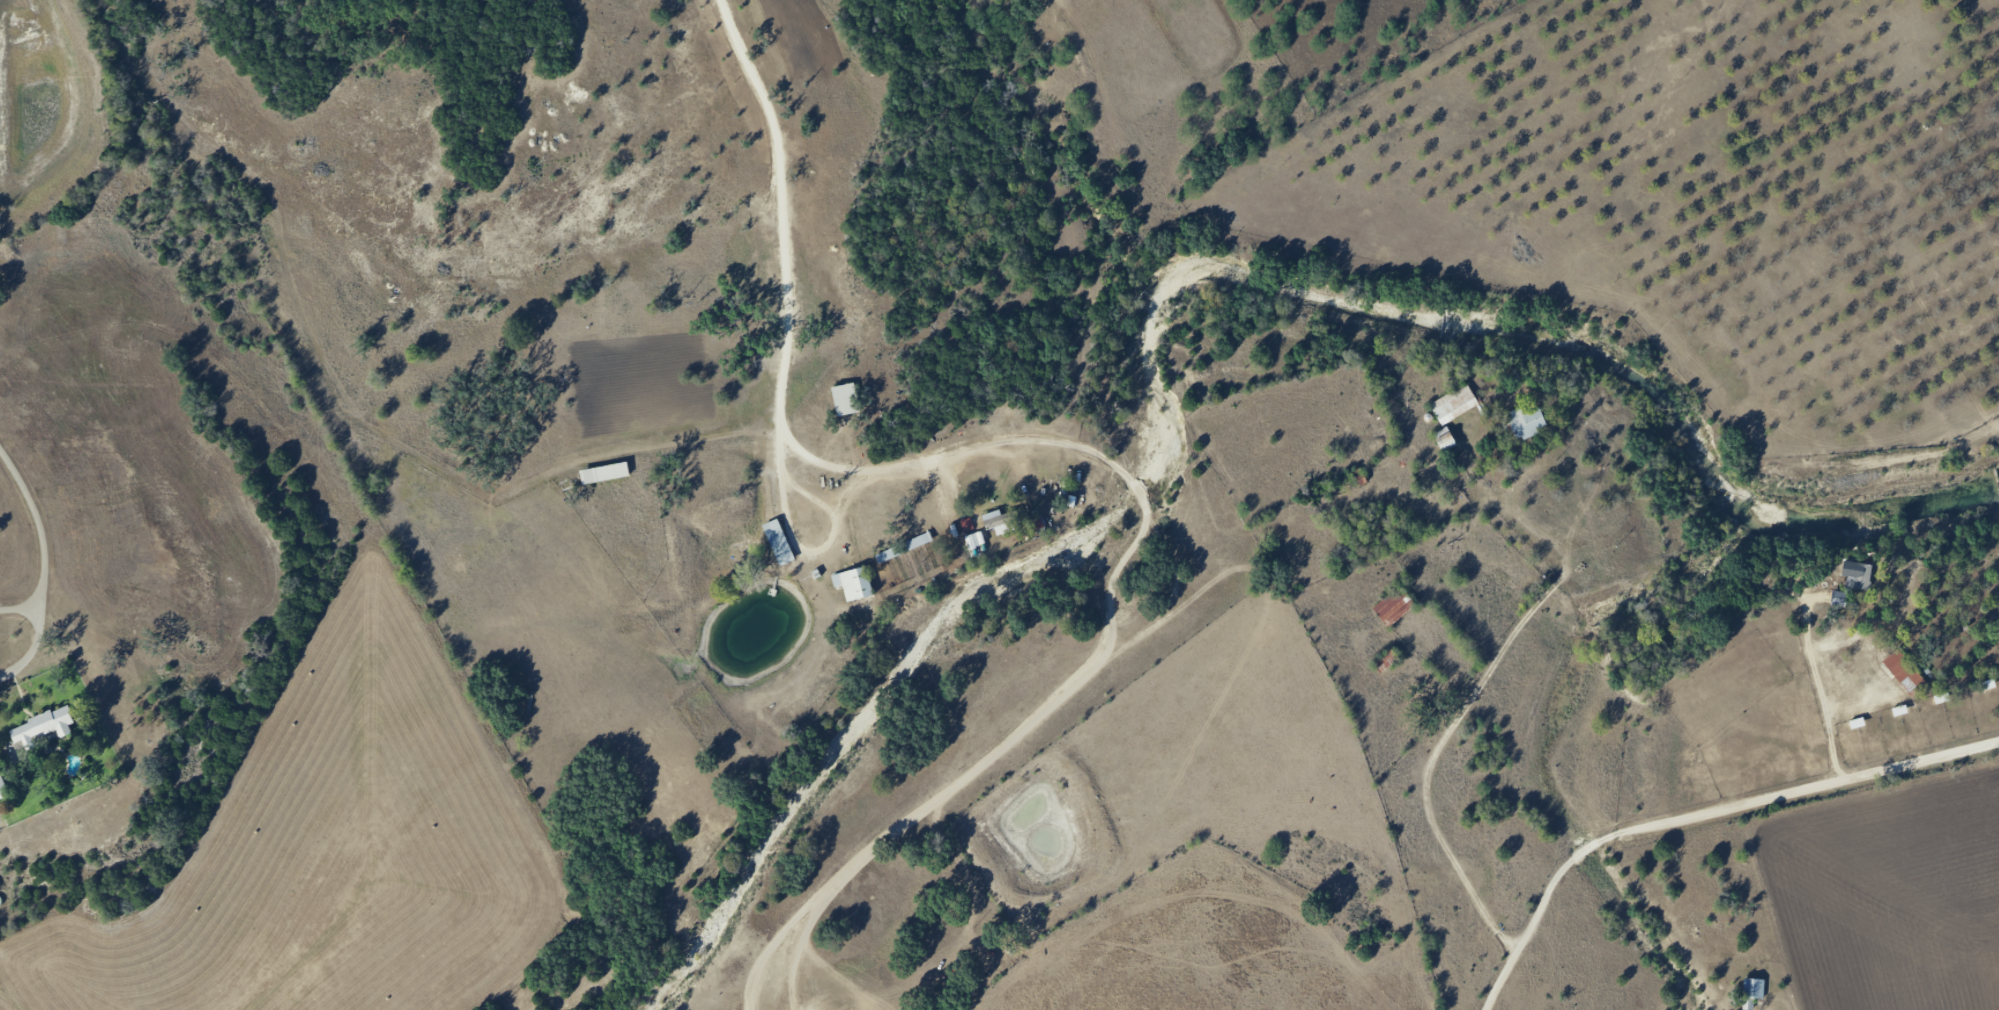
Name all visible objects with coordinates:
building: (846, 401)
building: (1454, 405)
building: (1527, 423)
building: (1445, 441)
building: (605, 474)
building: (999, 522)
building: (781, 547)
building: (903, 548)
building: (1862, 577)
building: (854, 584)
building: (1395, 608)
building: (1387, 661)
building: (1905, 674)
building: (42, 729)
building: (2, 787)
road: (1699, 814)
building: (1752, 993)

